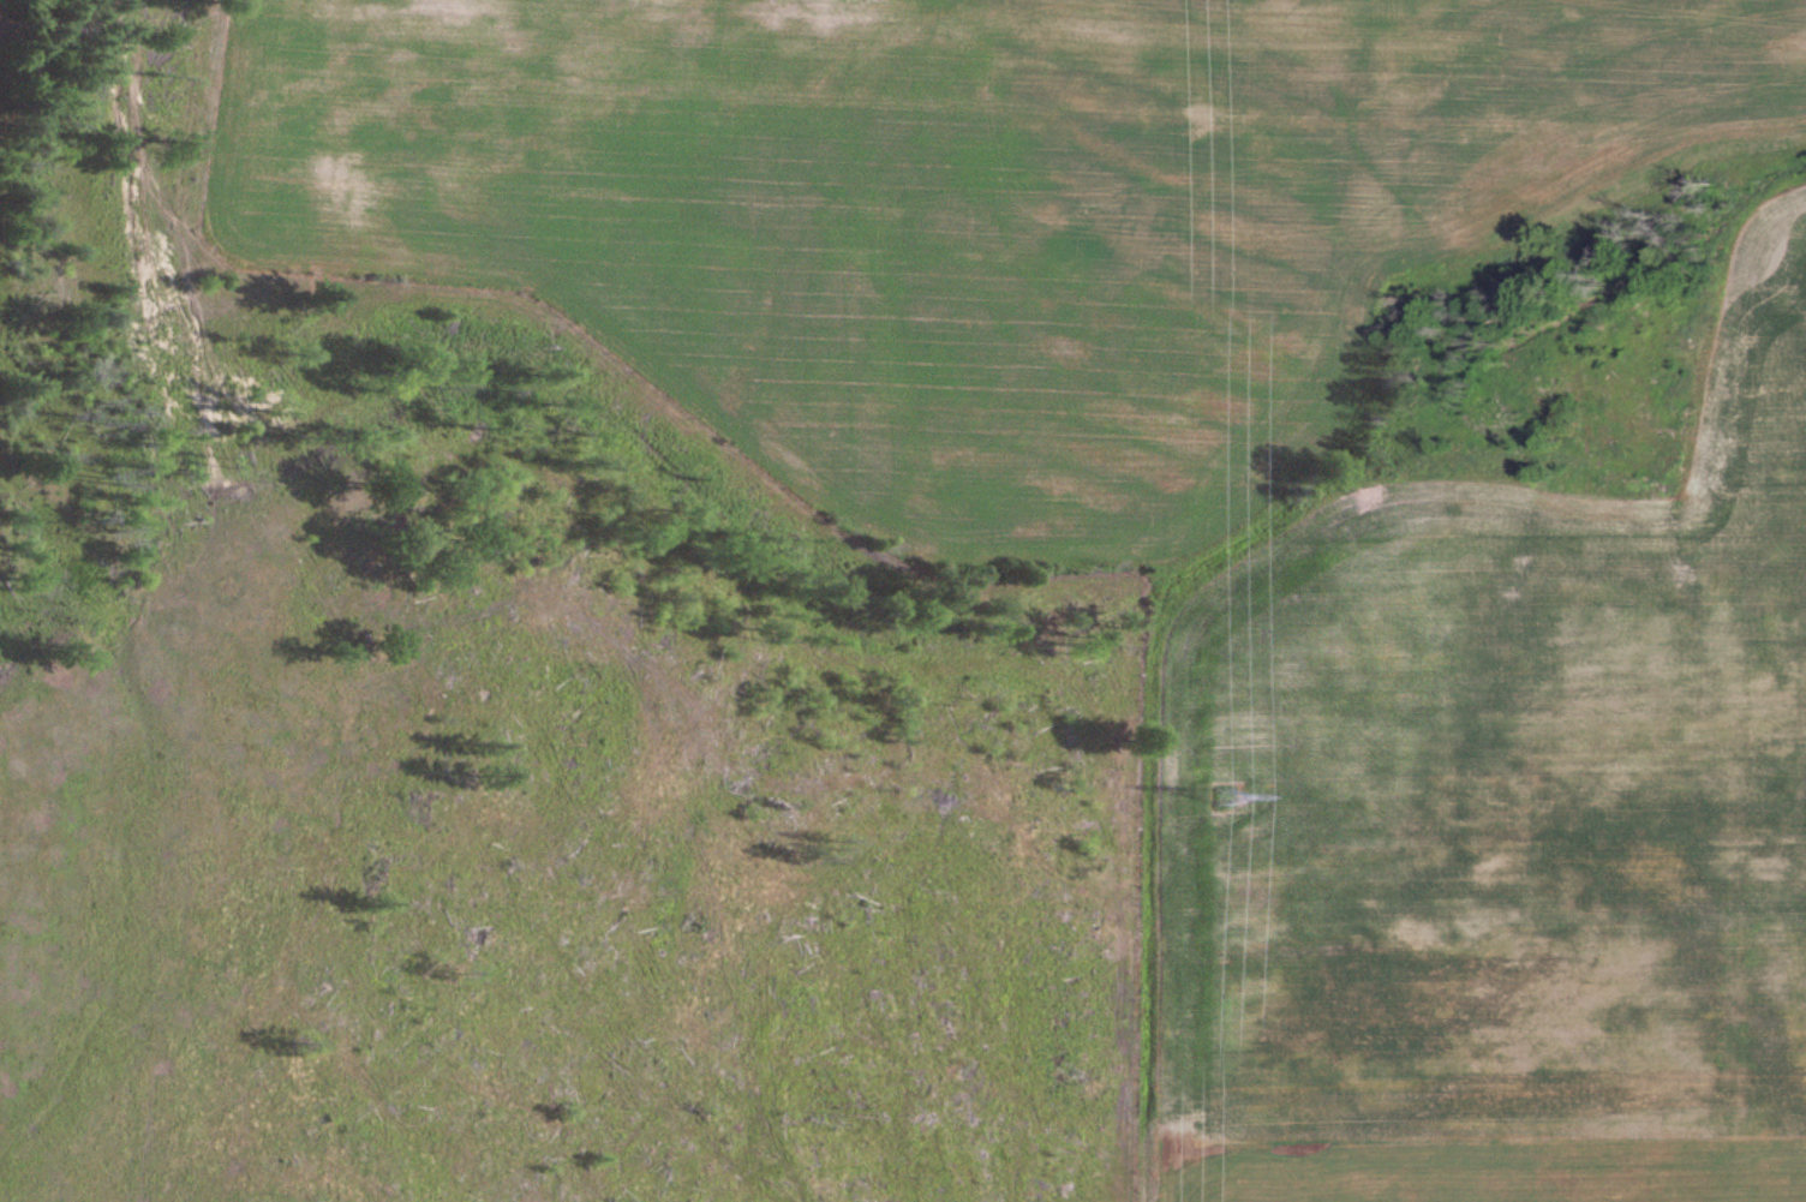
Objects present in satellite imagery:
power tower: (1222, 797)

